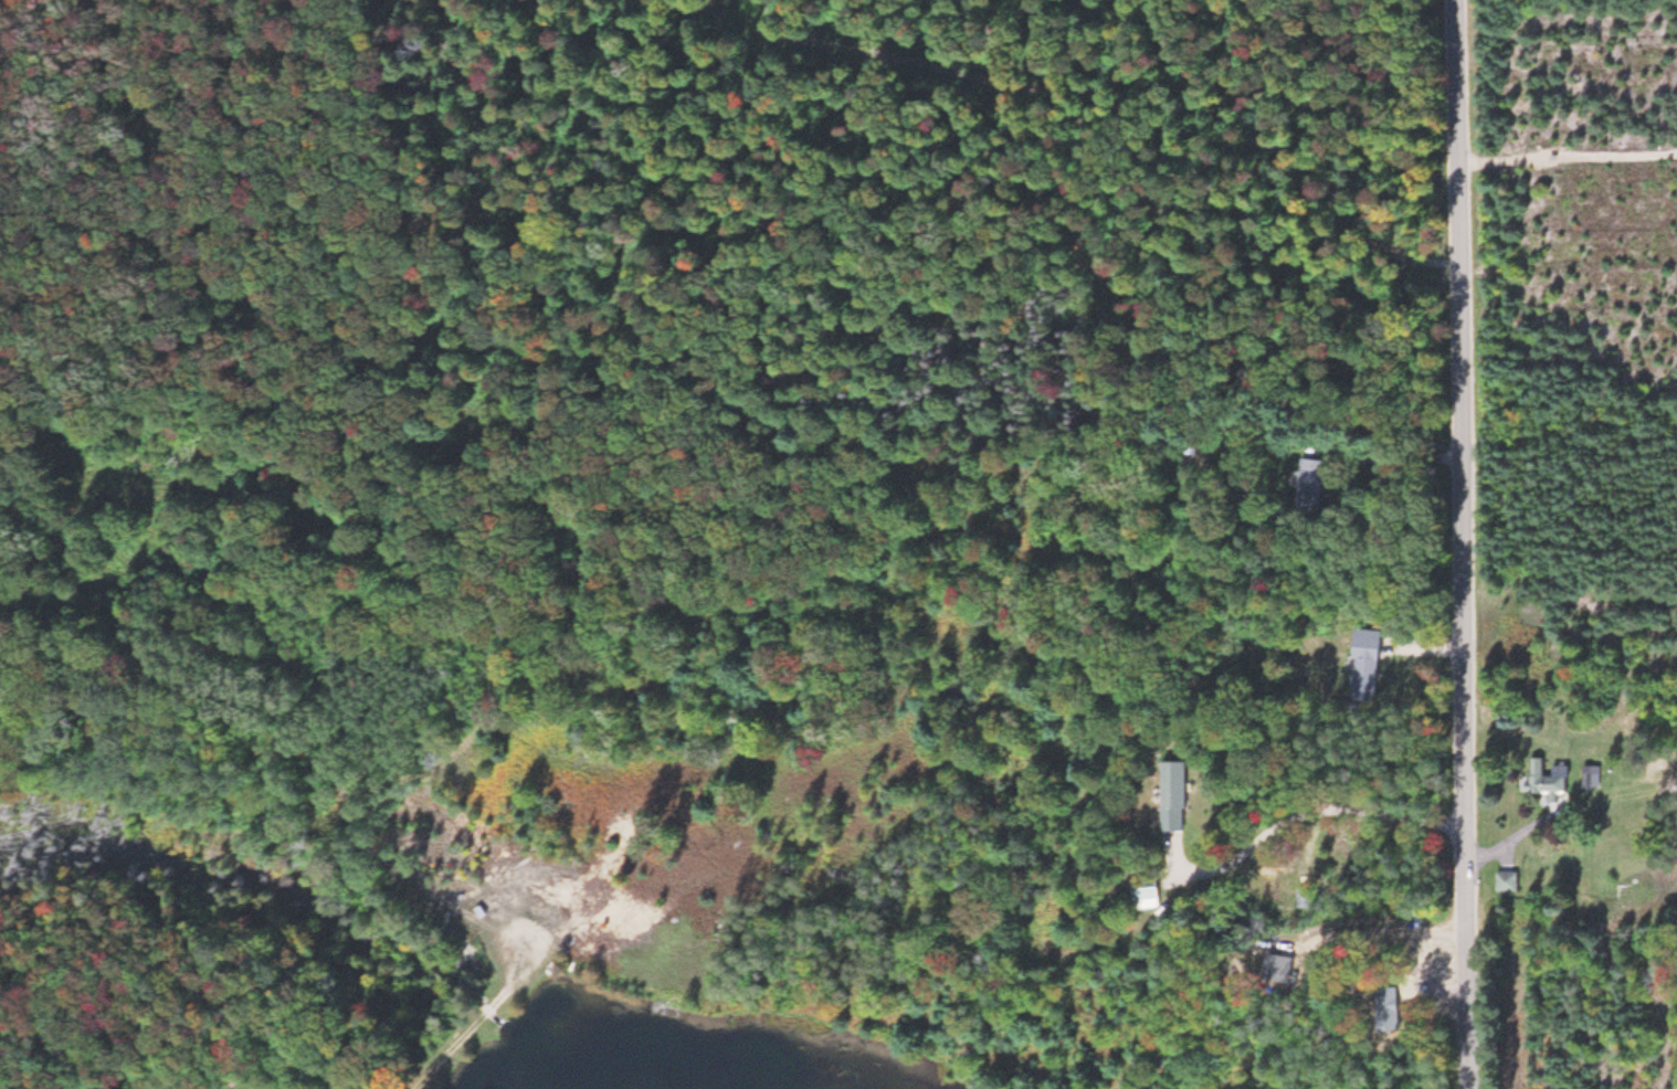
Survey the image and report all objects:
road: (1465, 425)
building: (1317, 484)
building: (1370, 658)
building: (1594, 775)
building: (1552, 779)
building: (1178, 795)
building: (1510, 880)
building: (1308, 900)
road: (499, 927)
road: (1469, 971)
road: (430, 1074)

